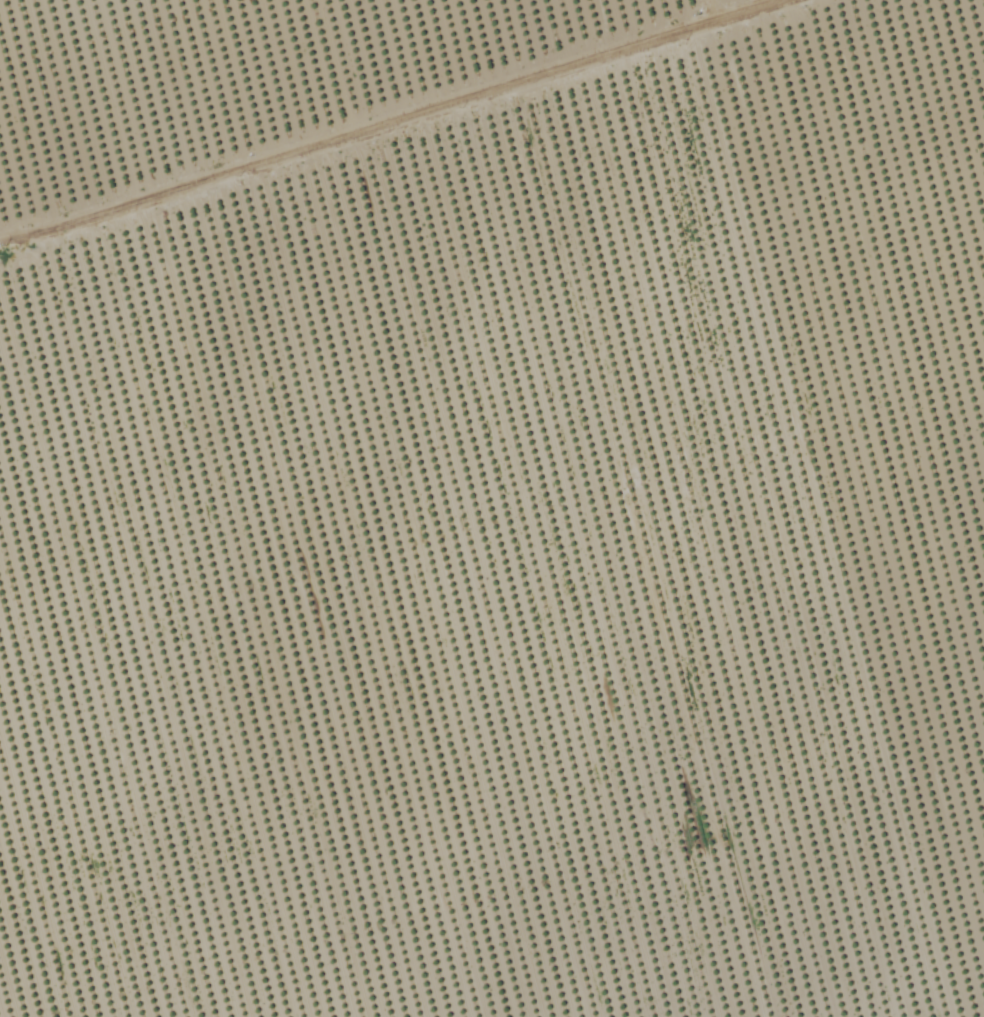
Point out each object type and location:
crop: (492, 508)

